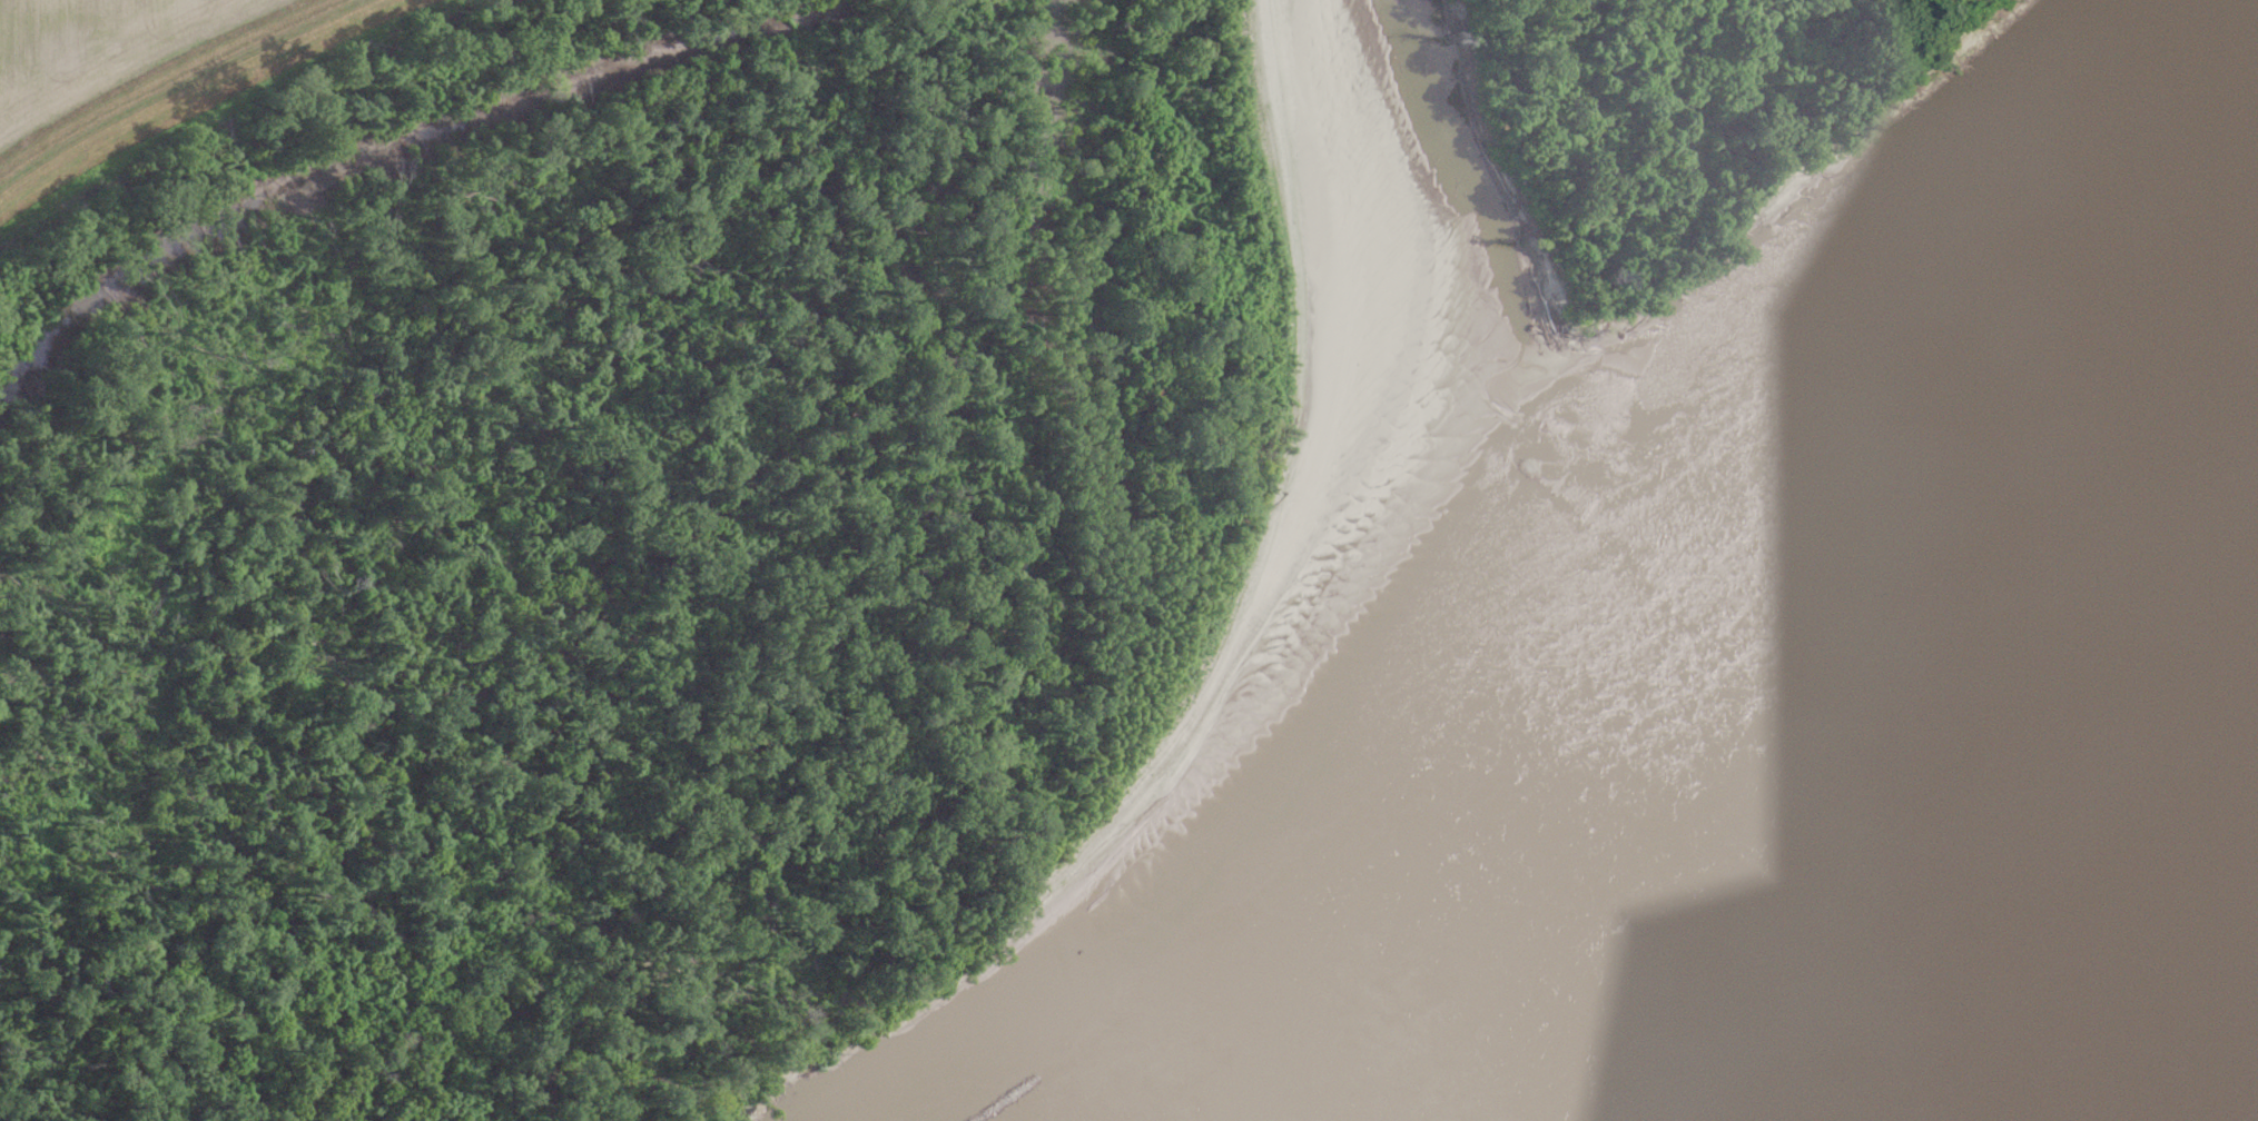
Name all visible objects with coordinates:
road: (190, 83)
river: (2024, 934)

